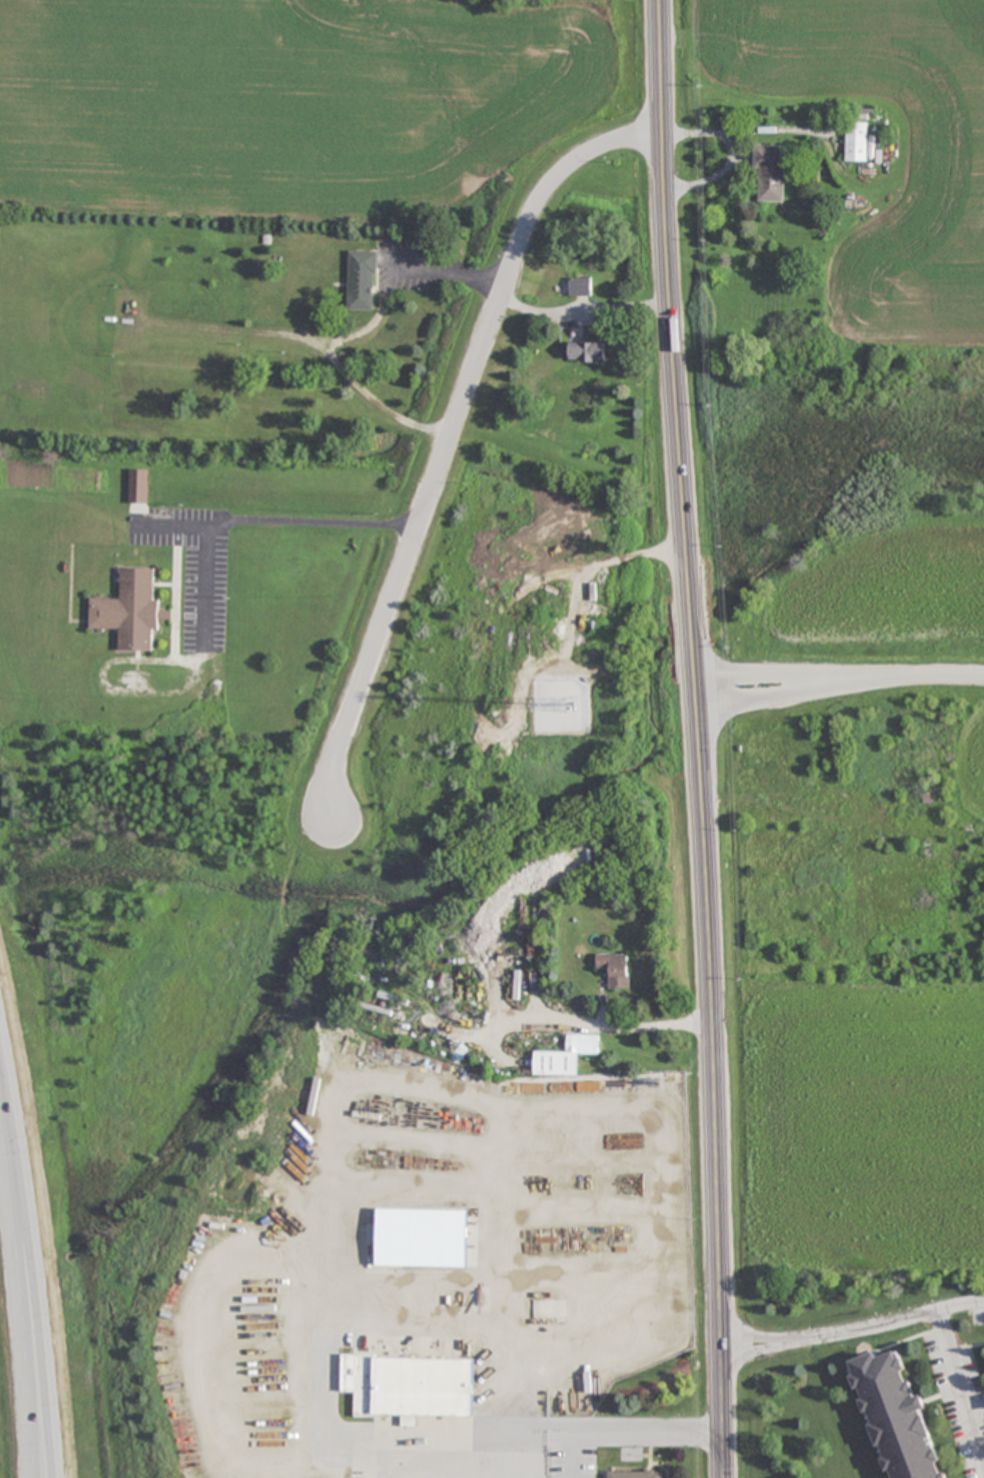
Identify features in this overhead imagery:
building: (857, 142)
building: (770, 173)
building: (361, 280)
building: (580, 286)
building: (586, 351)
road: (450, 436)
building: (138, 486)
building: (130, 611)
road: (840, 680)
road: (700, 738)
building: (615, 969)
building: (566, 1056)
building: (422, 1238)
road: (37, 1266)
road: (15, 1283)
building: (543, 1309)
road: (939, 1321)
road: (497, 1326)
road: (854, 1330)
building: (409, 1386)
parking lot: (960, 1395)
road: (963, 1401)
building: (896, 1418)
road: (527, 1435)
road: (571, 1456)
building: (635, 1474)

